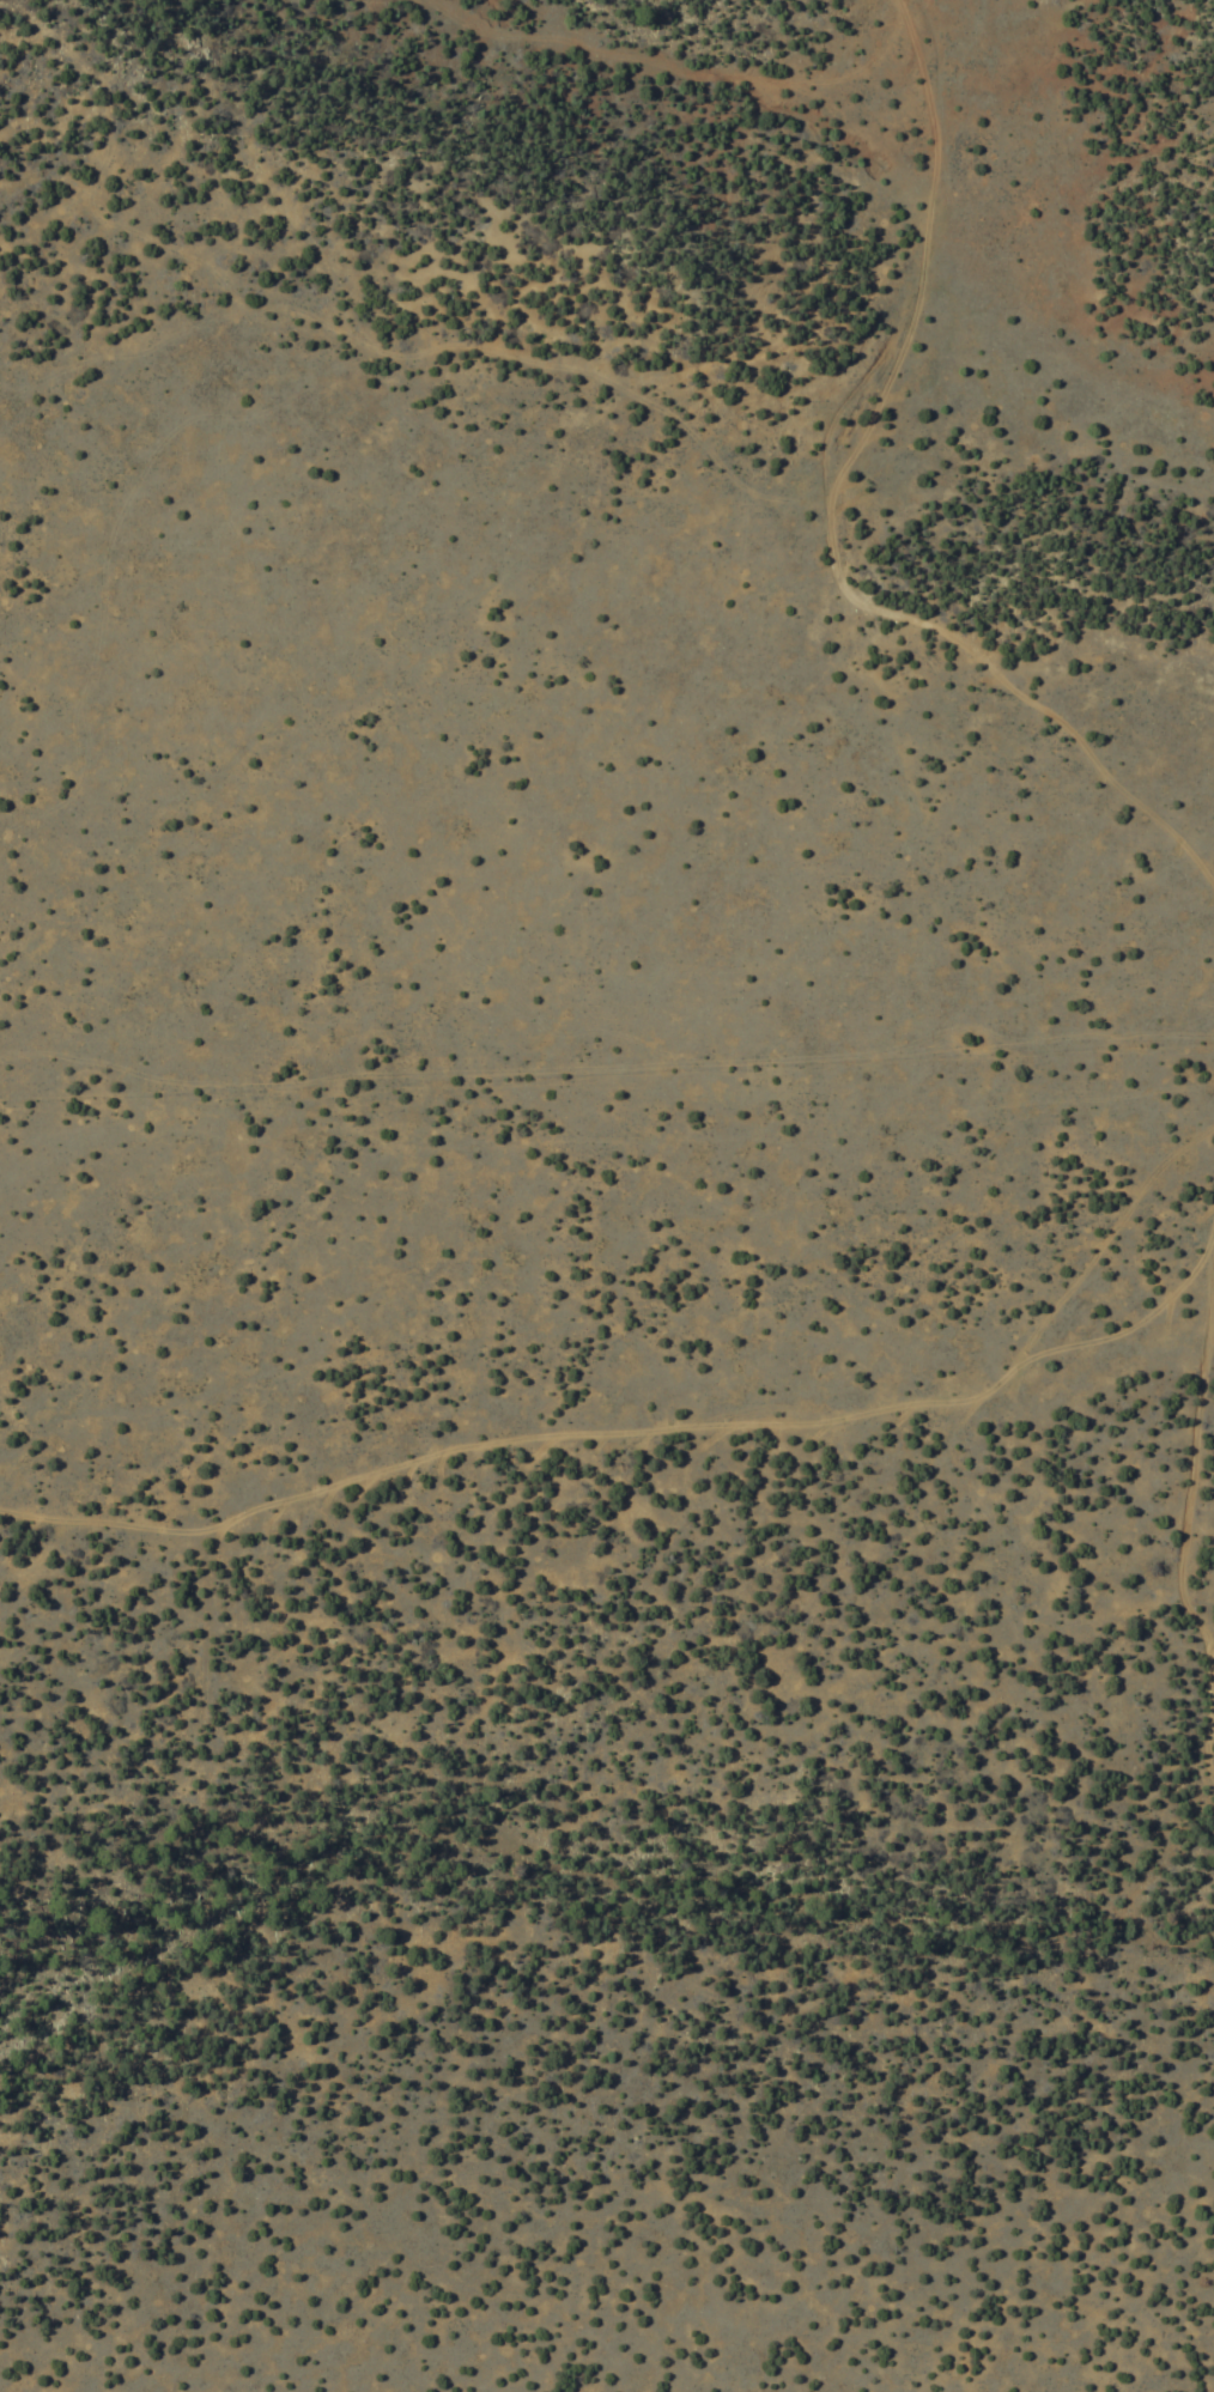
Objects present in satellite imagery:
road: (833, 502)

